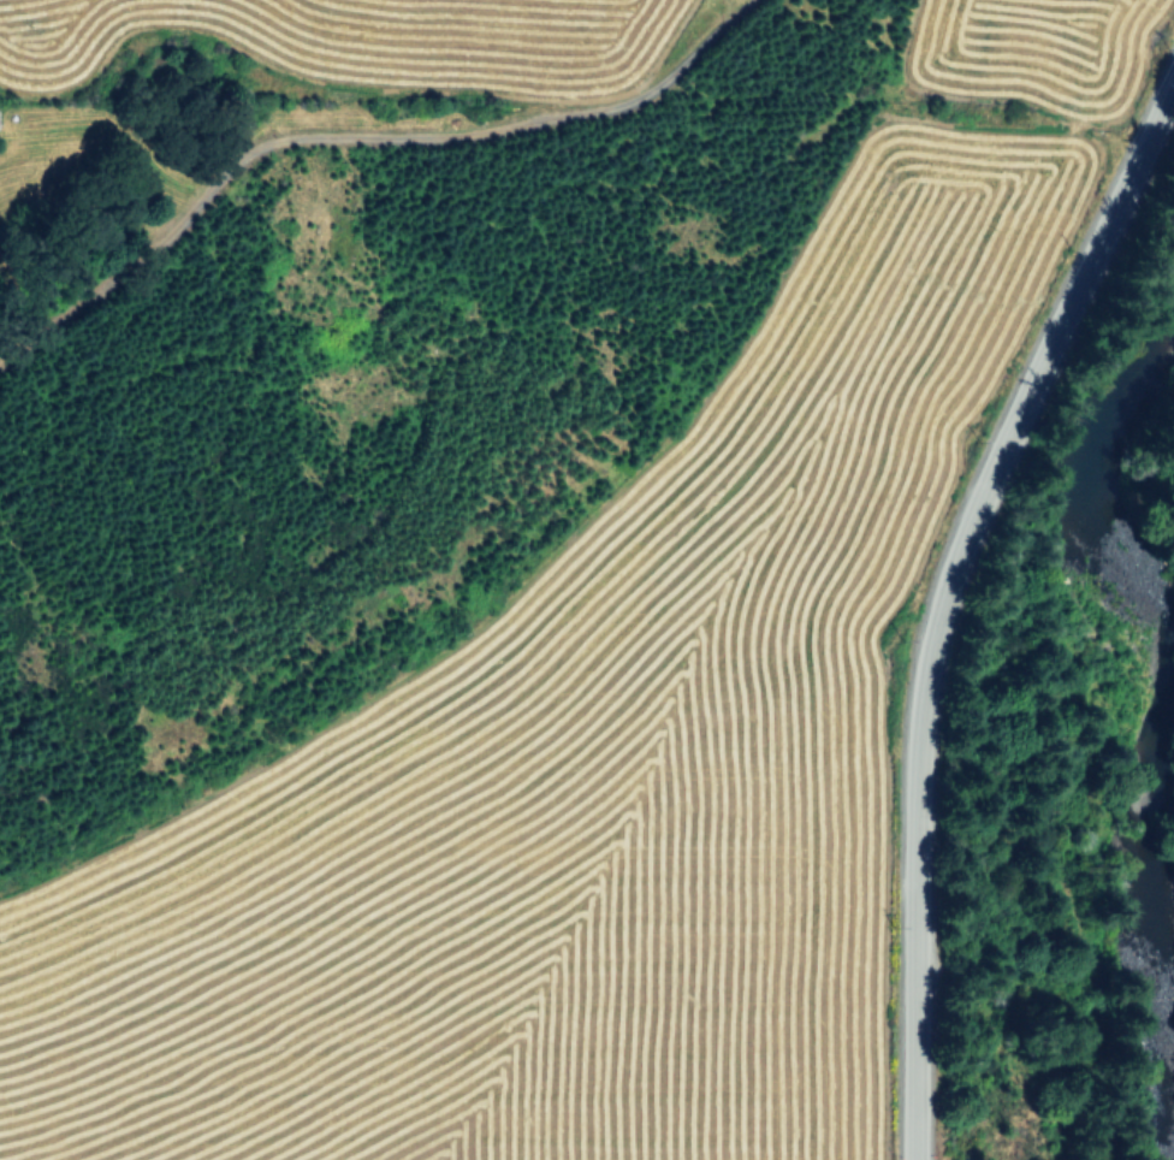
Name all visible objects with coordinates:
road: (945, 593)
crop: (665, 715)

